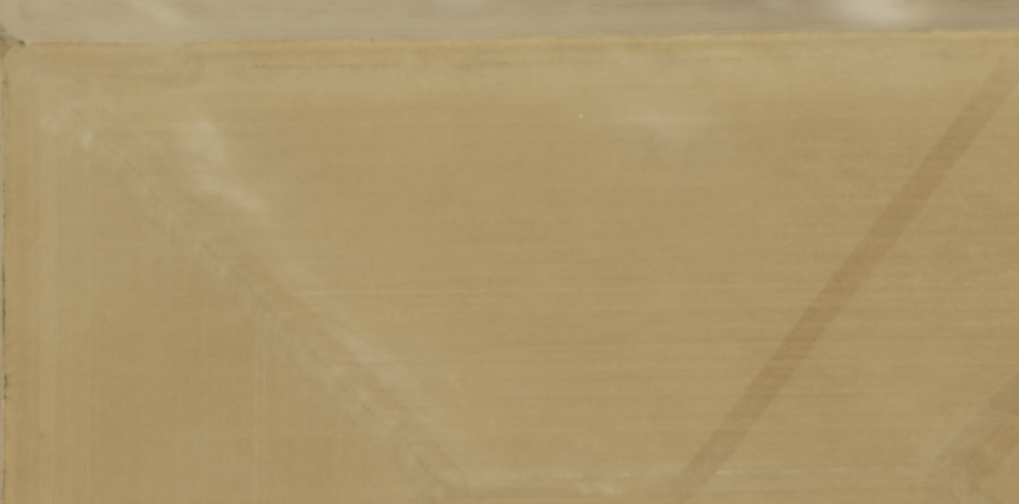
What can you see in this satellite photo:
crop: (509, 252)

